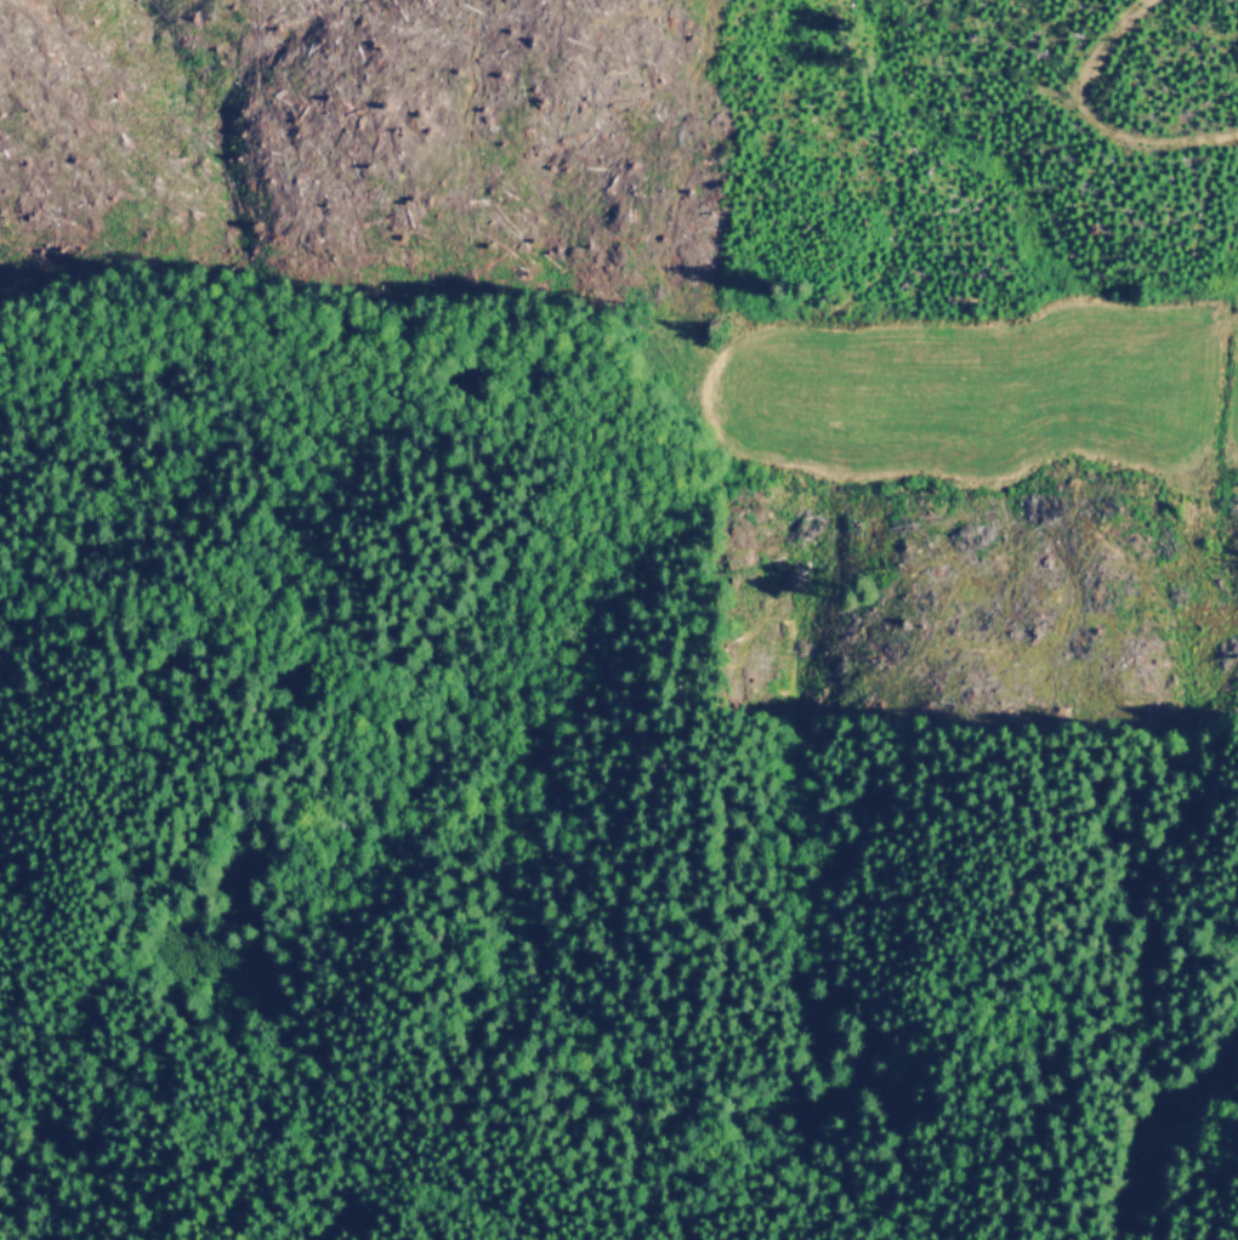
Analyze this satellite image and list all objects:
road: (1097, 120)
road: (998, 374)
road: (736, 1238)

